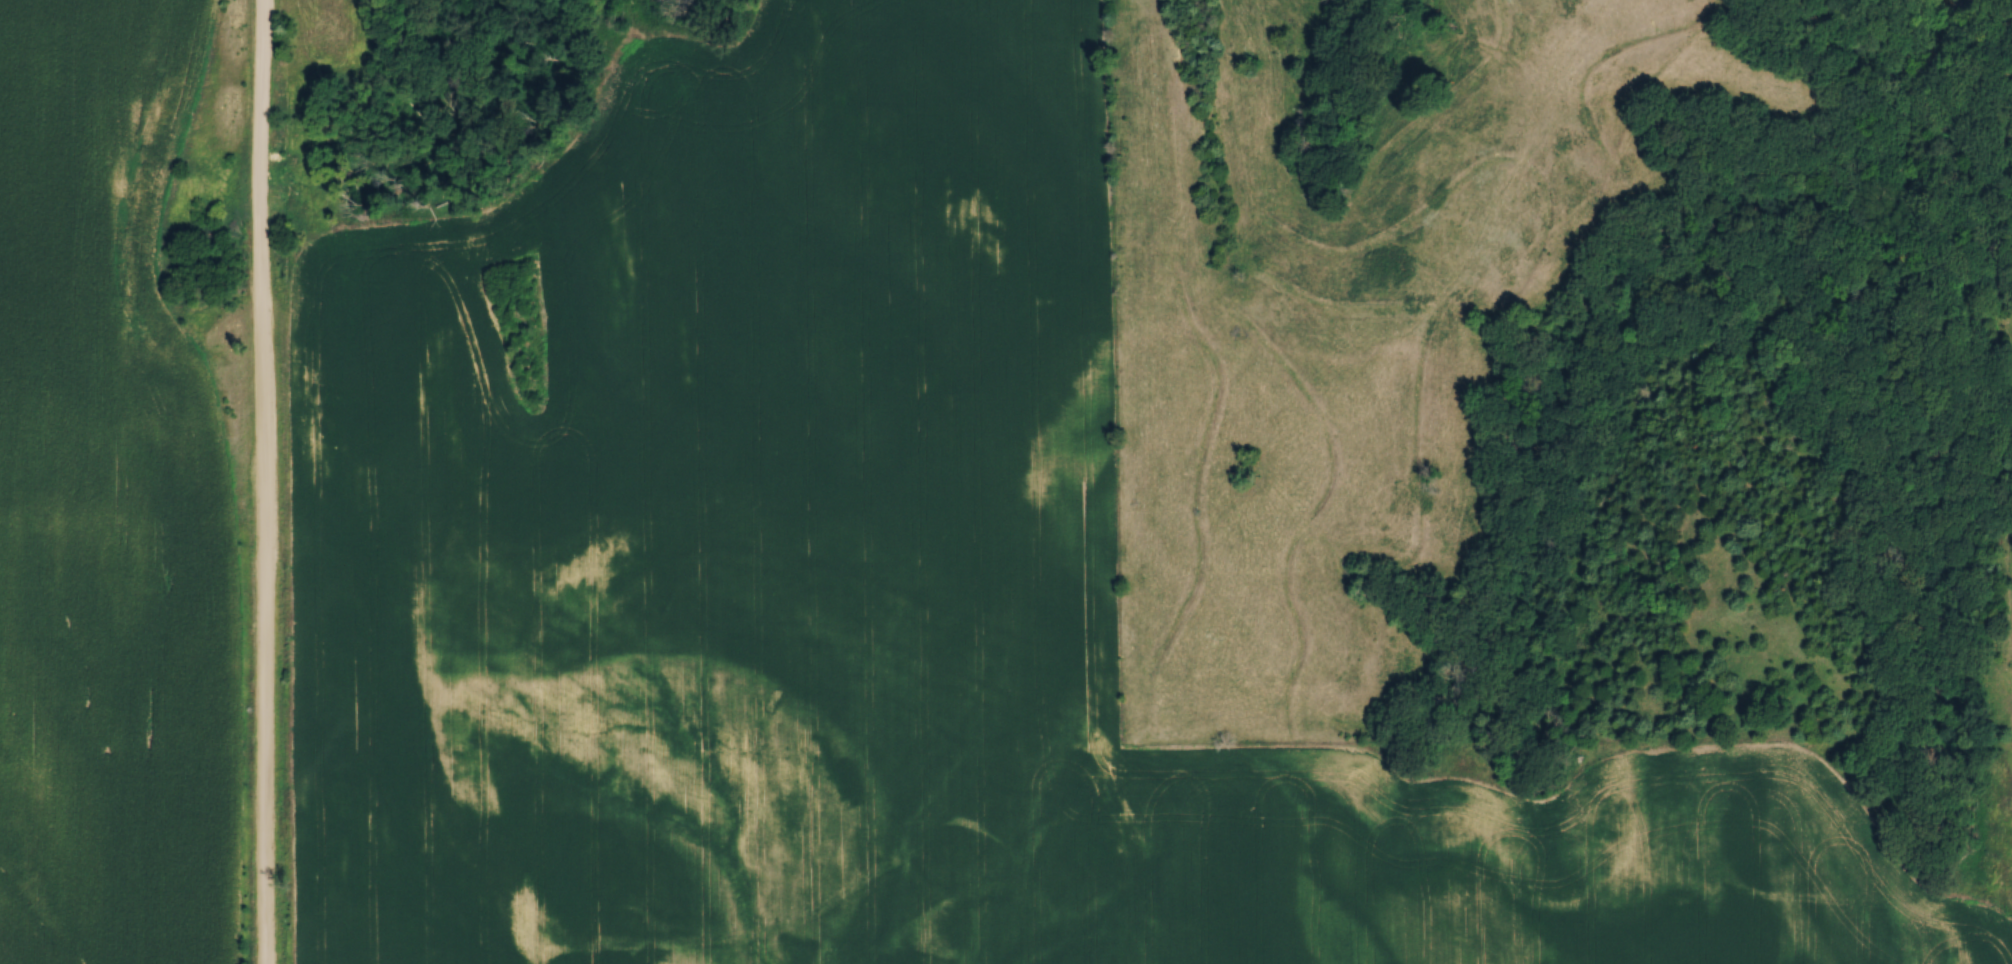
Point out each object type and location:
road: (266, 481)

